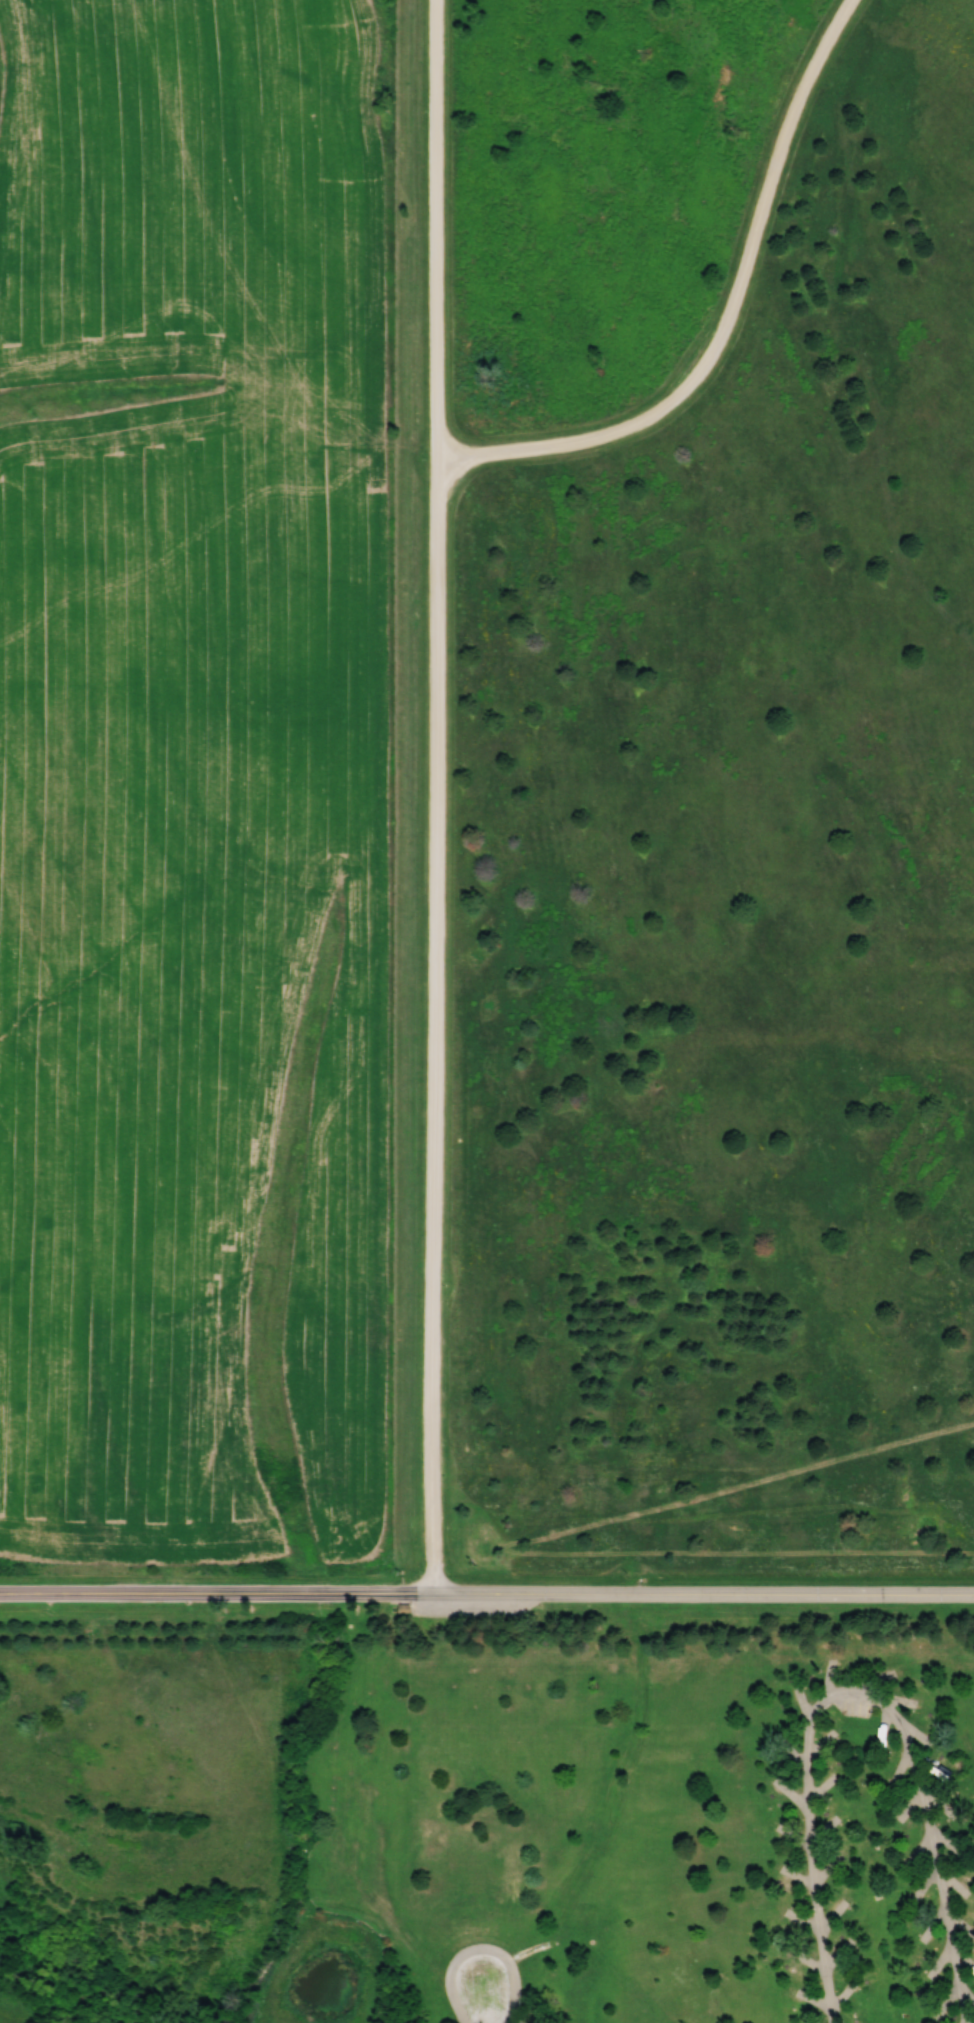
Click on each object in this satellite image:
road: (722, 313)
road: (439, 793)
park: (633, 1130)
road: (738, 1557)
road: (217, 1588)
road: (704, 1590)
road: (576, 1671)
road: (852, 1697)
road: (479, 1949)

